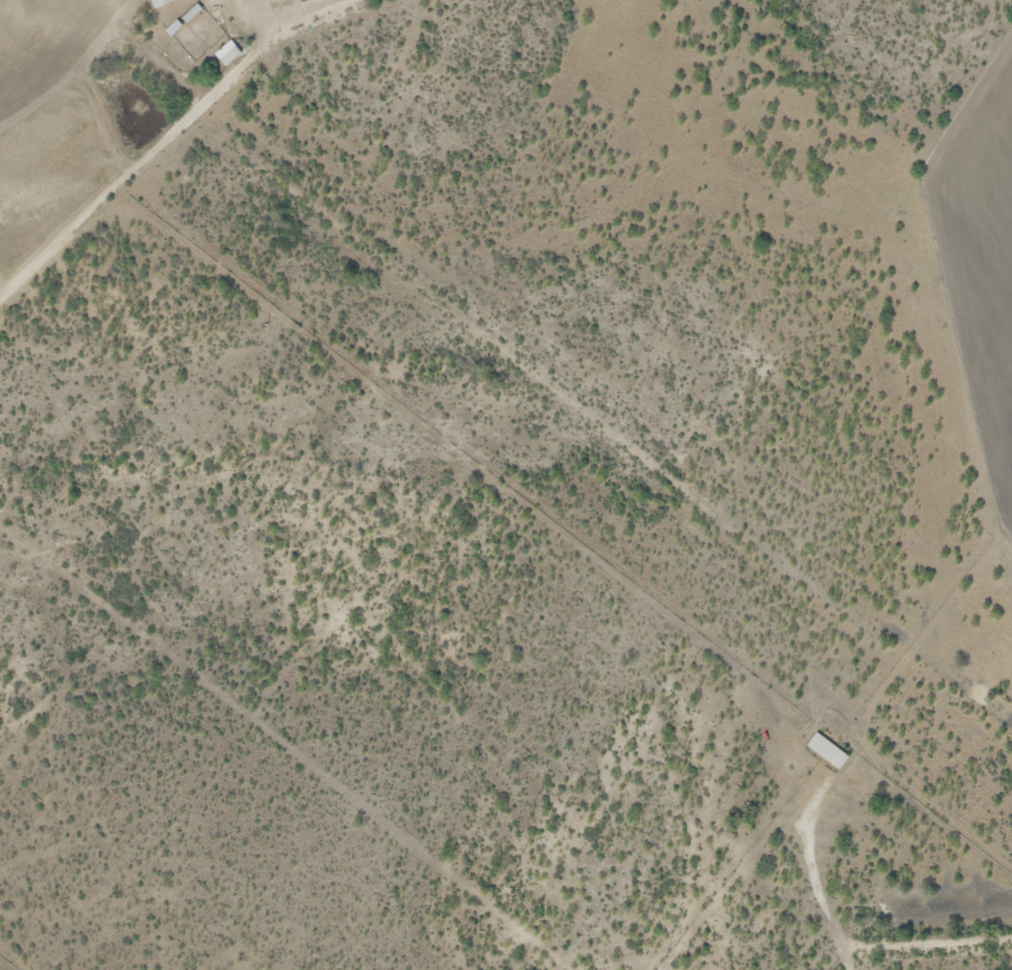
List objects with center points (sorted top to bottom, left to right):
building: (162, 3)
building: (228, 53)
road: (533, 371)
road: (484, 734)
building: (828, 751)
railway: (7, 964)

